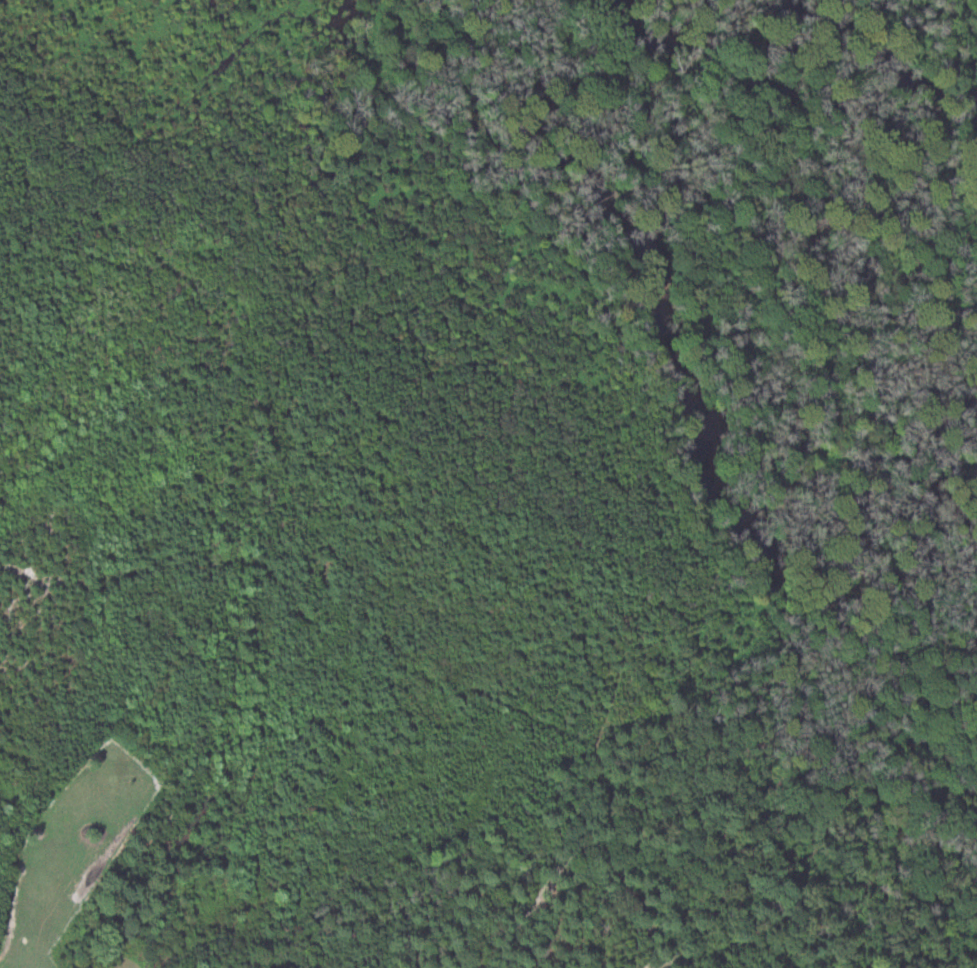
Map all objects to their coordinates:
river: (711, 392)

